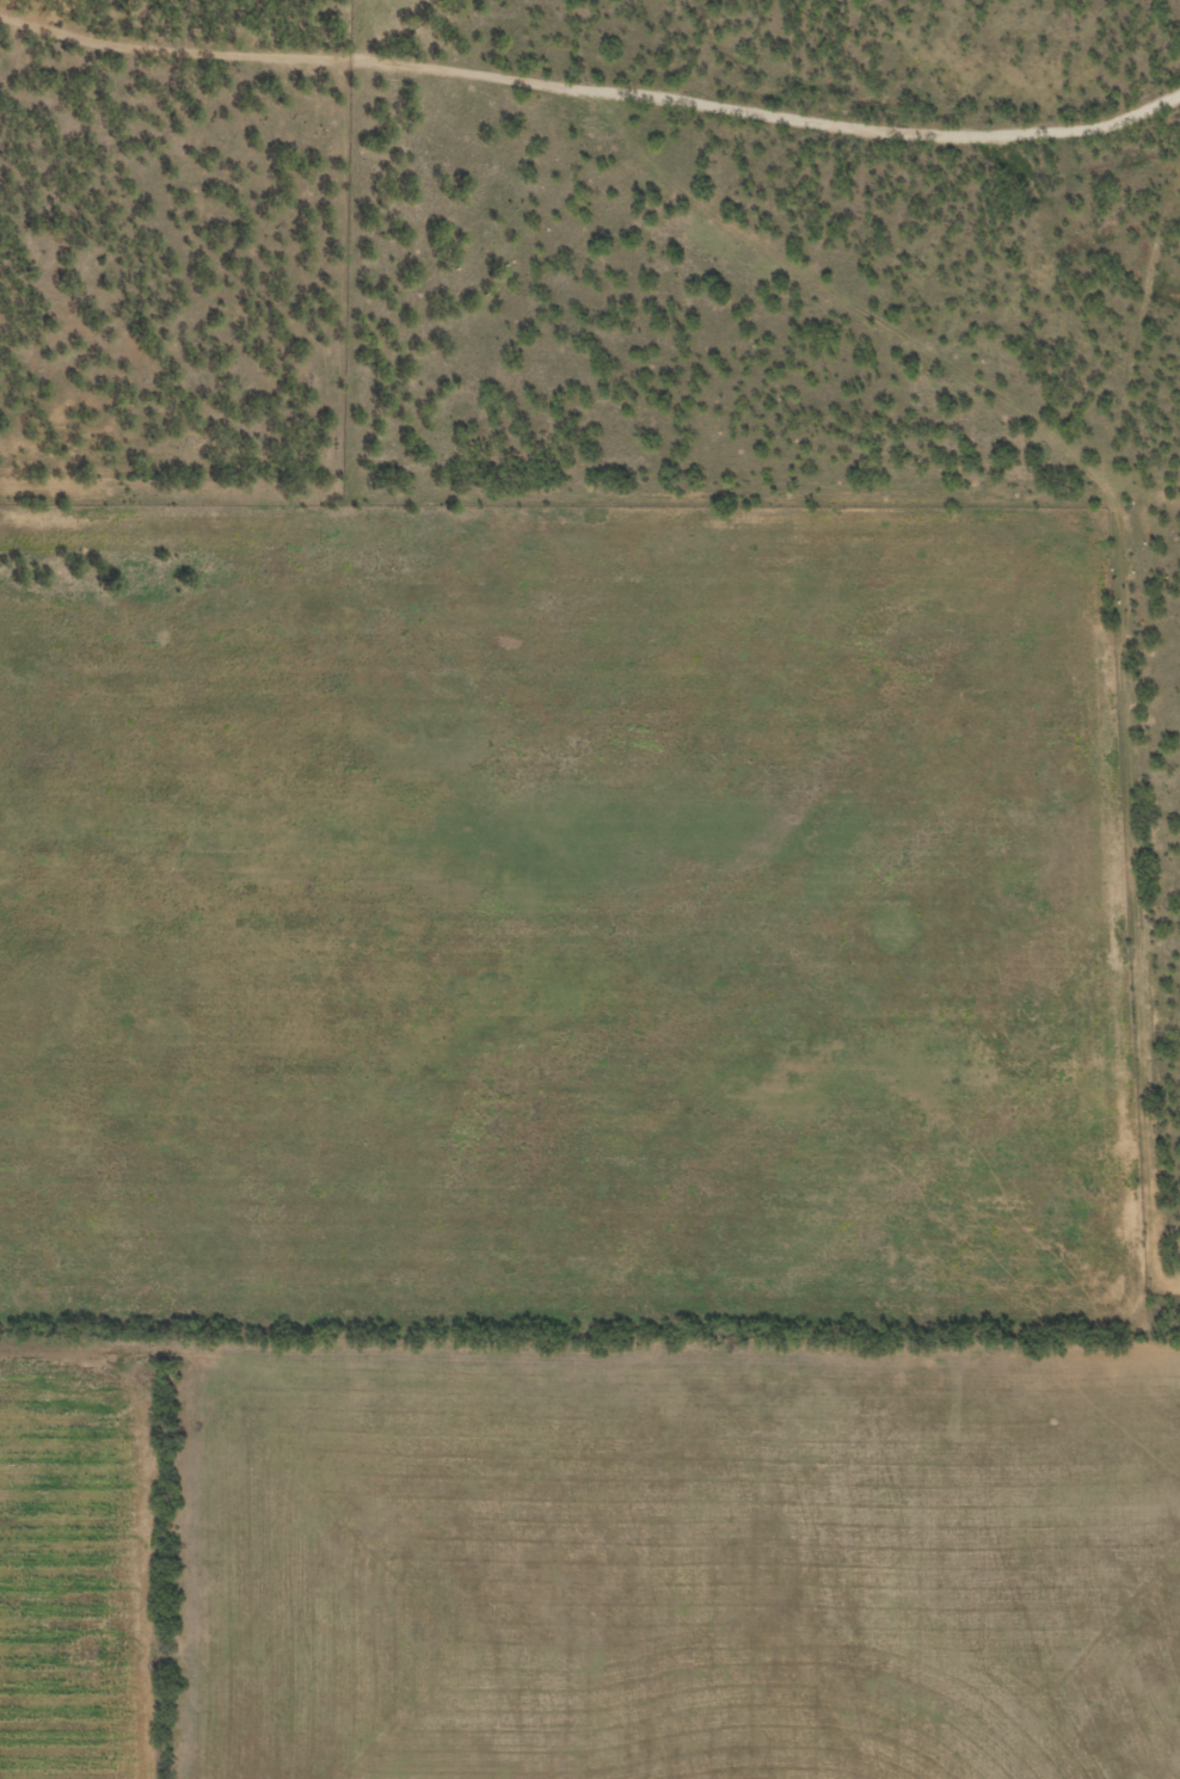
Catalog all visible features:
road: (591, 88)

